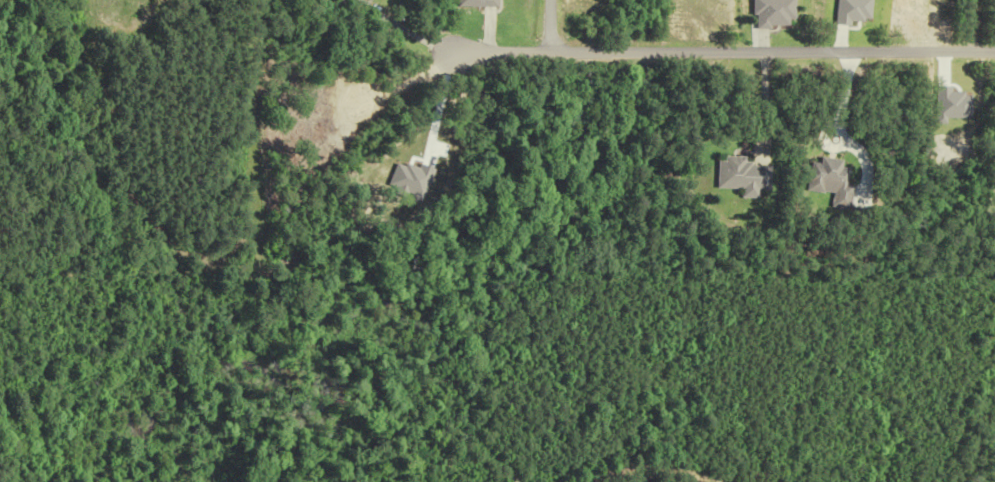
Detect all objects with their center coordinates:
building: (468, 4)
building: (764, 14)
road: (542, 25)
road: (724, 50)
road: (762, 103)
road: (833, 117)
building: (736, 177)
building: (826, 182)

